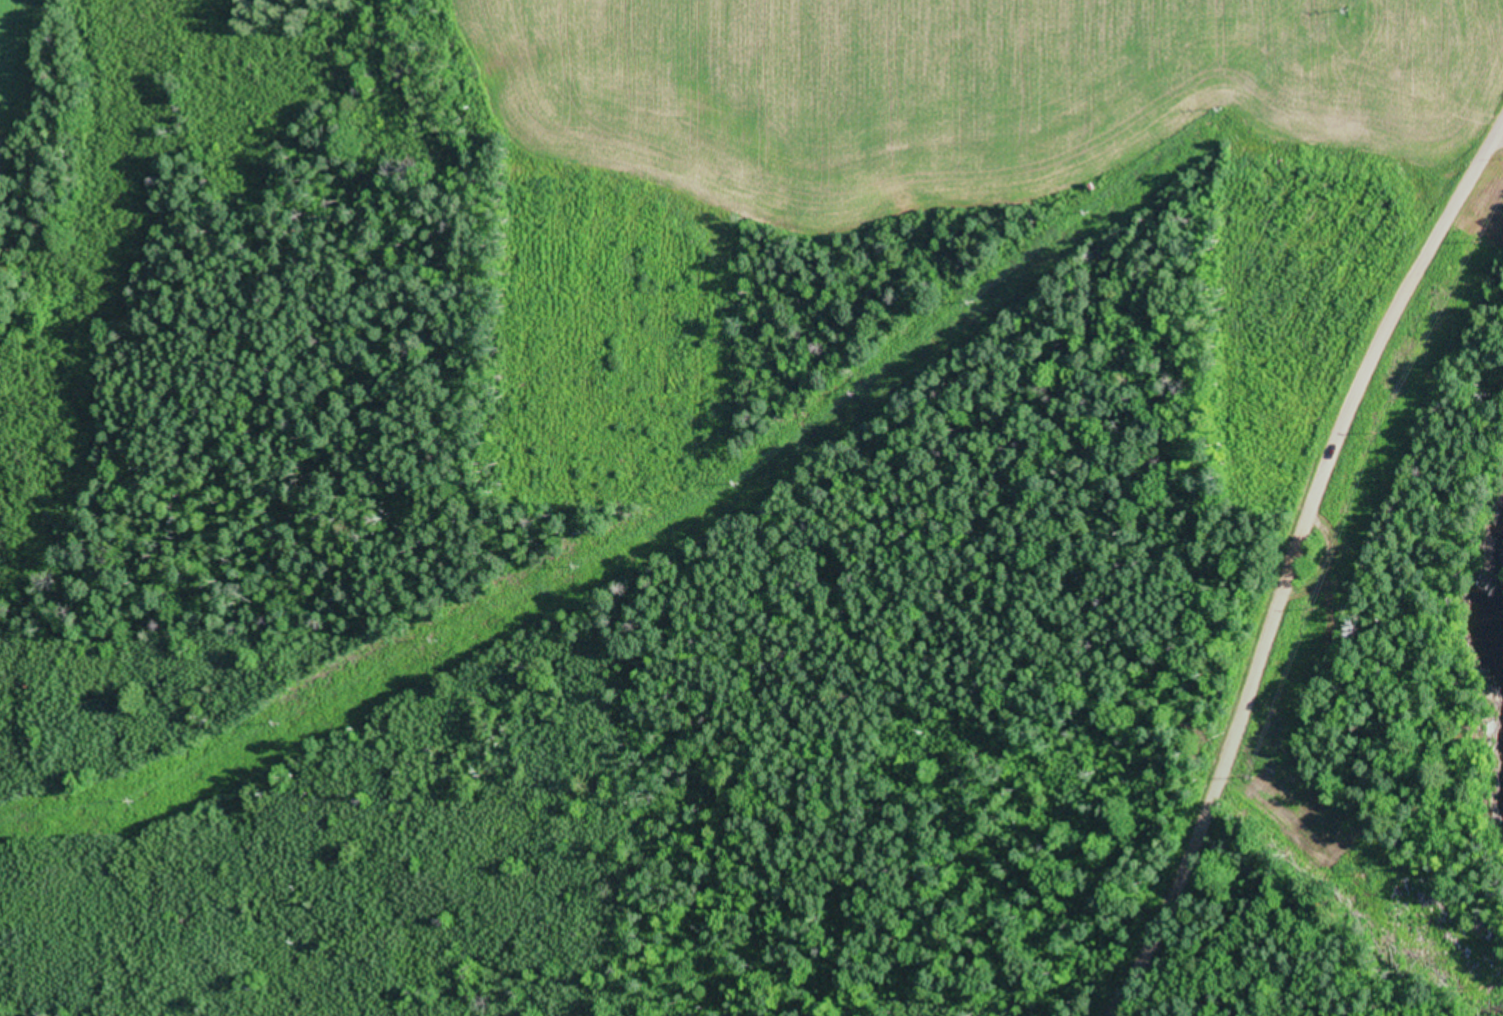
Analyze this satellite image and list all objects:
crop: (17, 61)
park: (254, 322)
road: (1304, 579)

